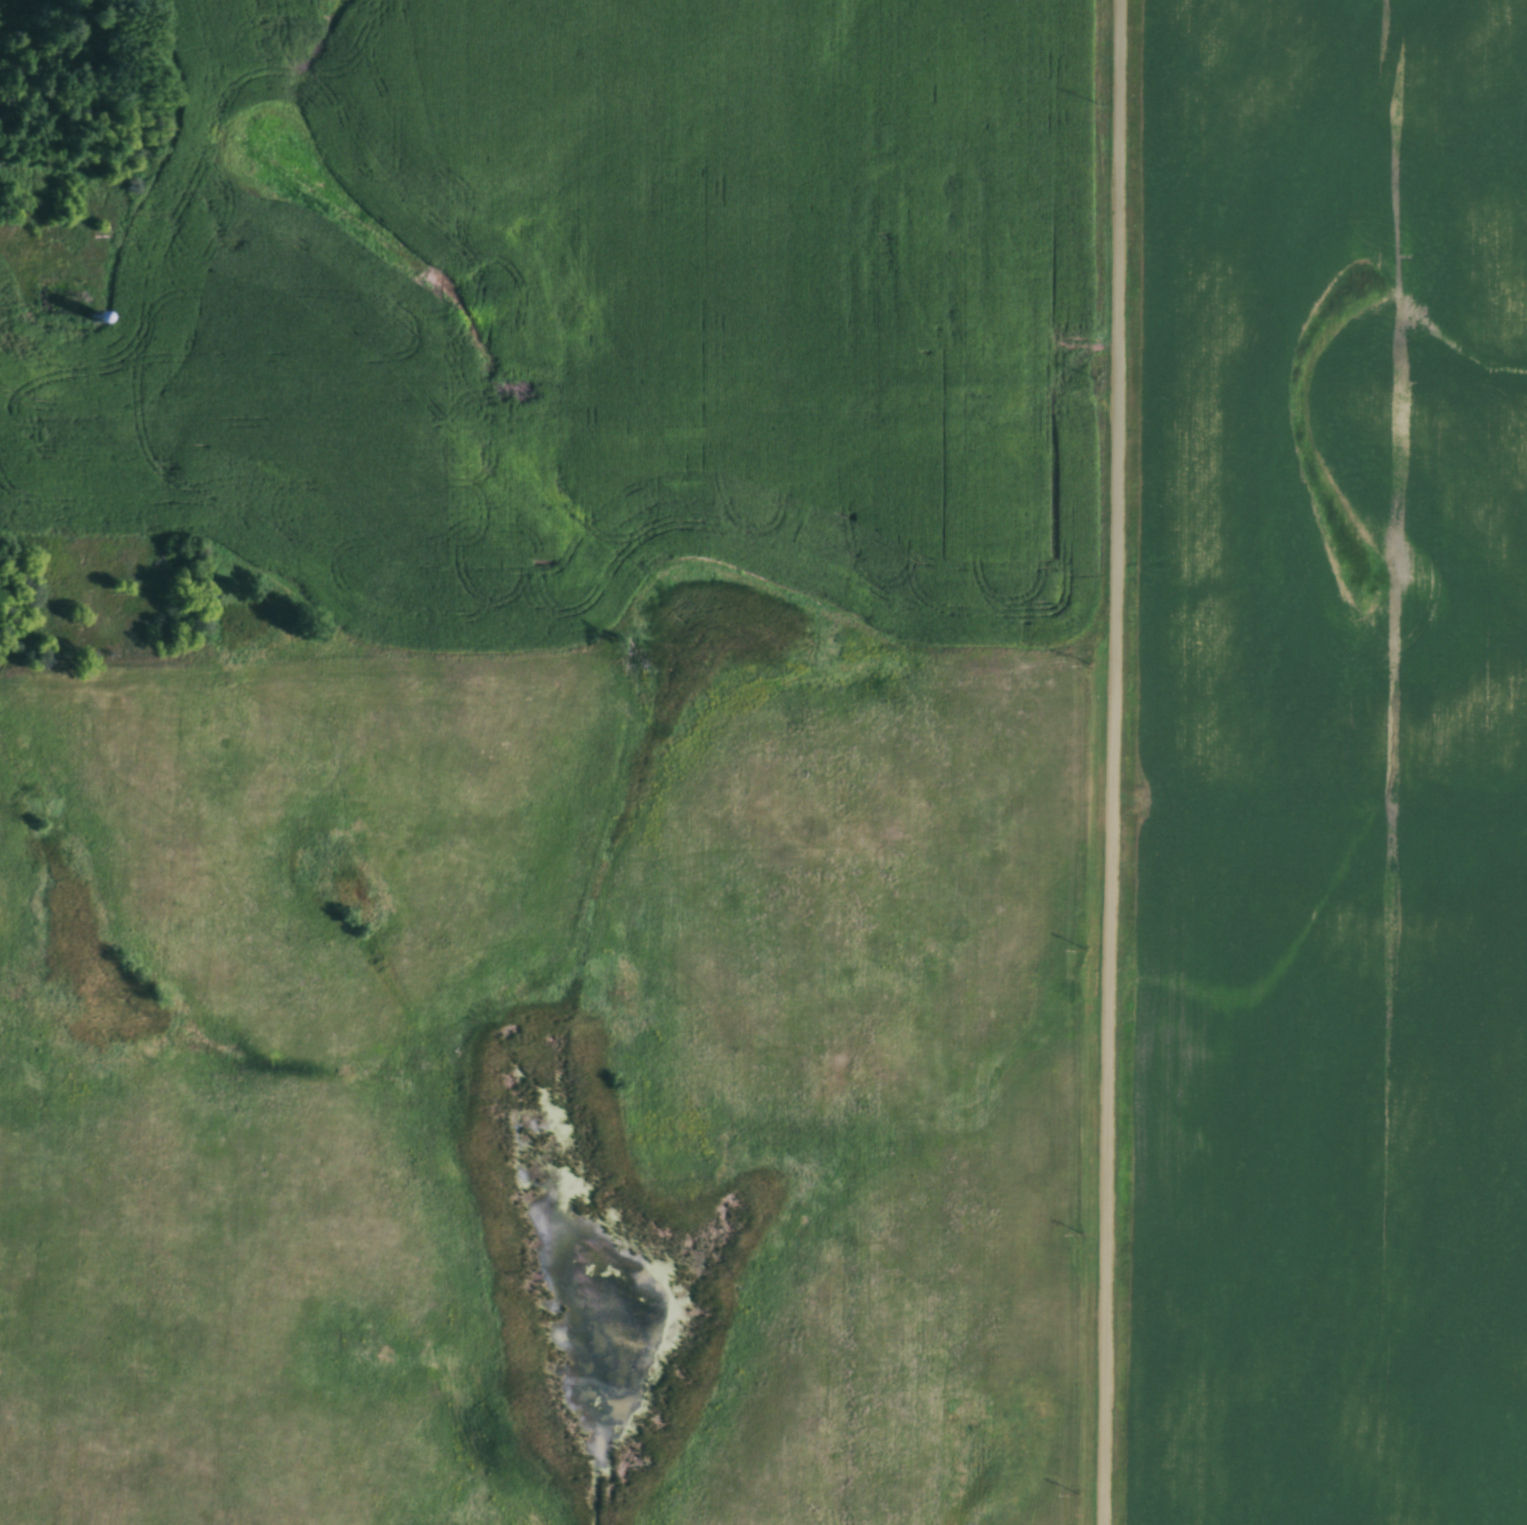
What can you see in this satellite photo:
road: (1114, 762)

